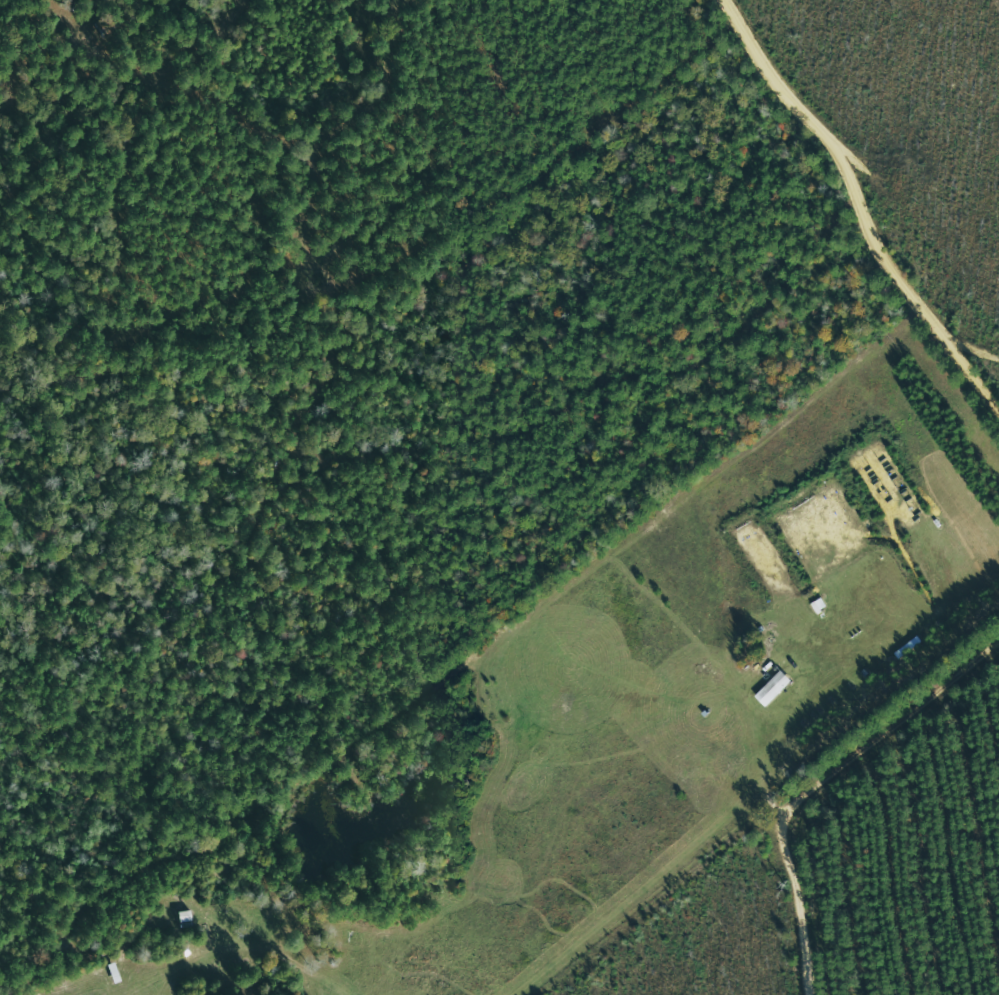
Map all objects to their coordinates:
building: (104, 28)
building: (491, 70)
road: (854, 215)
road: (243, 288)
road: (439, 420)
road: (698, 572)
building: (748, 643)
road: (876, 700)

